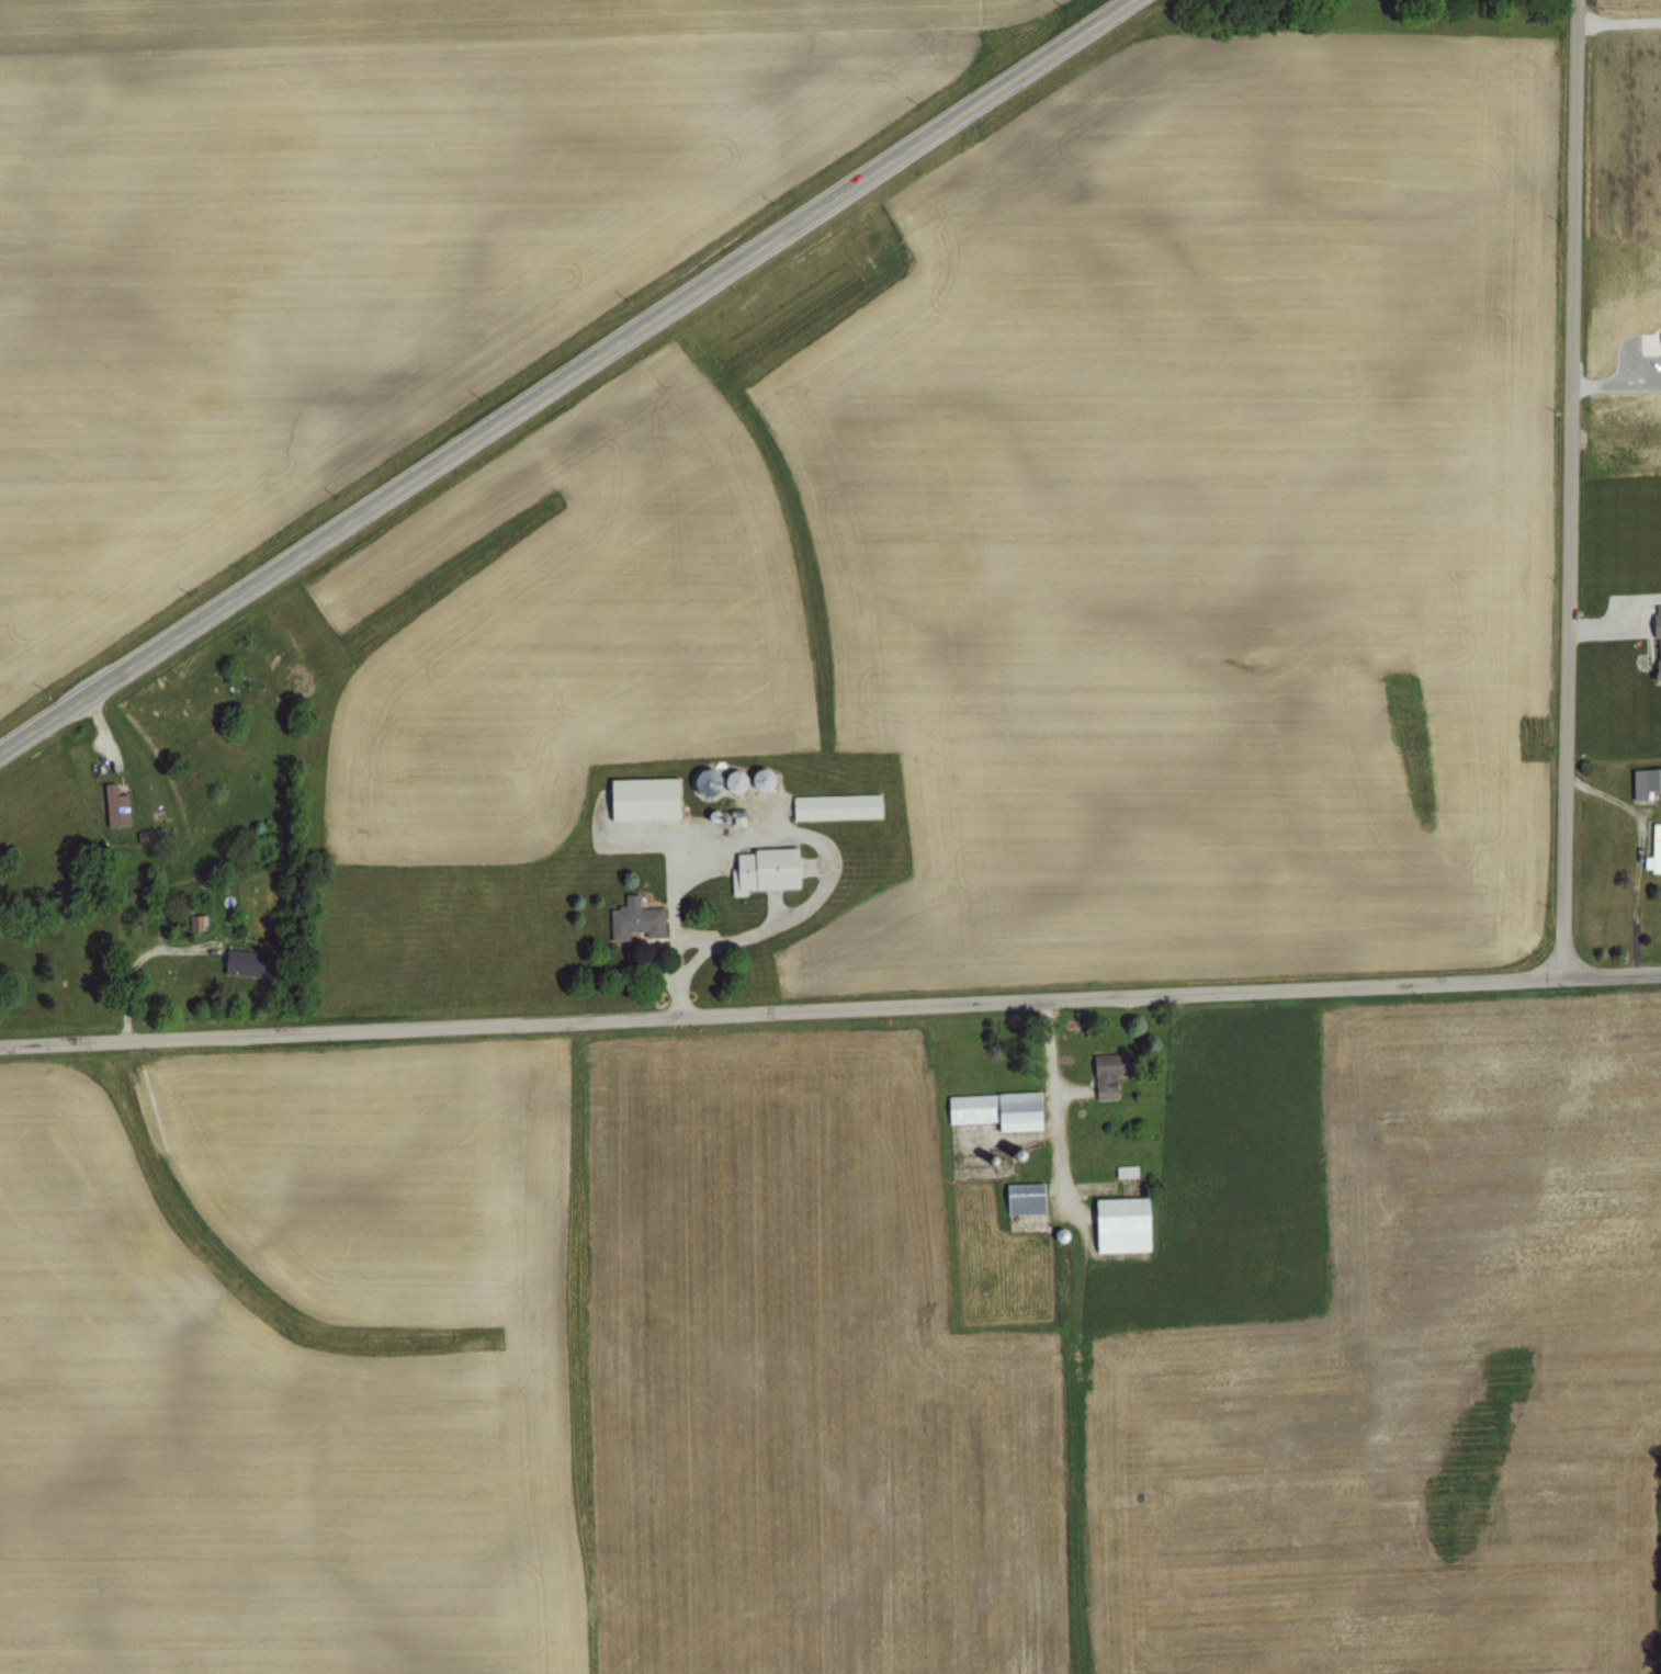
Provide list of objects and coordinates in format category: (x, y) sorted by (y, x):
road: (1619, 22)
crop: (378, 252)
building: (1650, 340)
crop: (1616, 376)
road: (568, 378)
road: (1617, 384)
road: (1573, 488)
road: (1614, 607)
building: (1656, 640)
building: (754, 778)
silo: (754, 778)
building: (727, 779)
silo: (727, 779)
building: (701, 781)
silo: (701, 781)
building: (716, 782)
building: (1642, 782)
building: (639, 798)
building: (833, 805)
road: (1623, 805)
building: (121, 807)
building: (151, 836)
building: (1651, 849)
building: (759, 868)
building: (632, 918)
building: (193, 921)
building: (203, 924)
building: (246, 960)
road: (136, 961)
crop: (885, 961)
road: (829, 1008)
building: (1106, 1072)
road: (1054, 1097)
building: (994, 1109)
building: (1122, 1169)
building: (1020, 1197)
building: (1116, 1223)
building: (1053, 1232)

